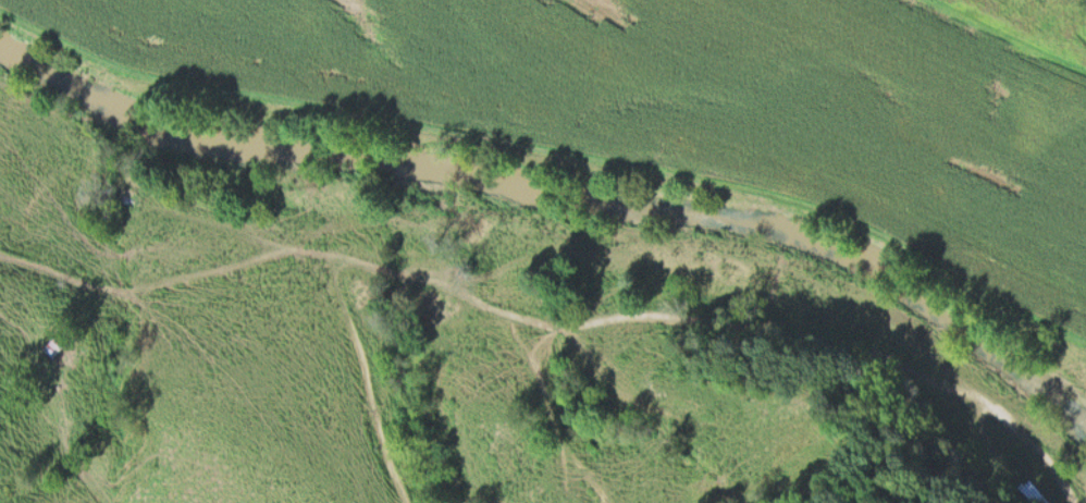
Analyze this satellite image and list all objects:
crop: (689, 108)
river: (559, 173)
road: (222, 226)
road: (138, 281)
road: (605, 314)
building: (52, 345)
road: (65, 444)

